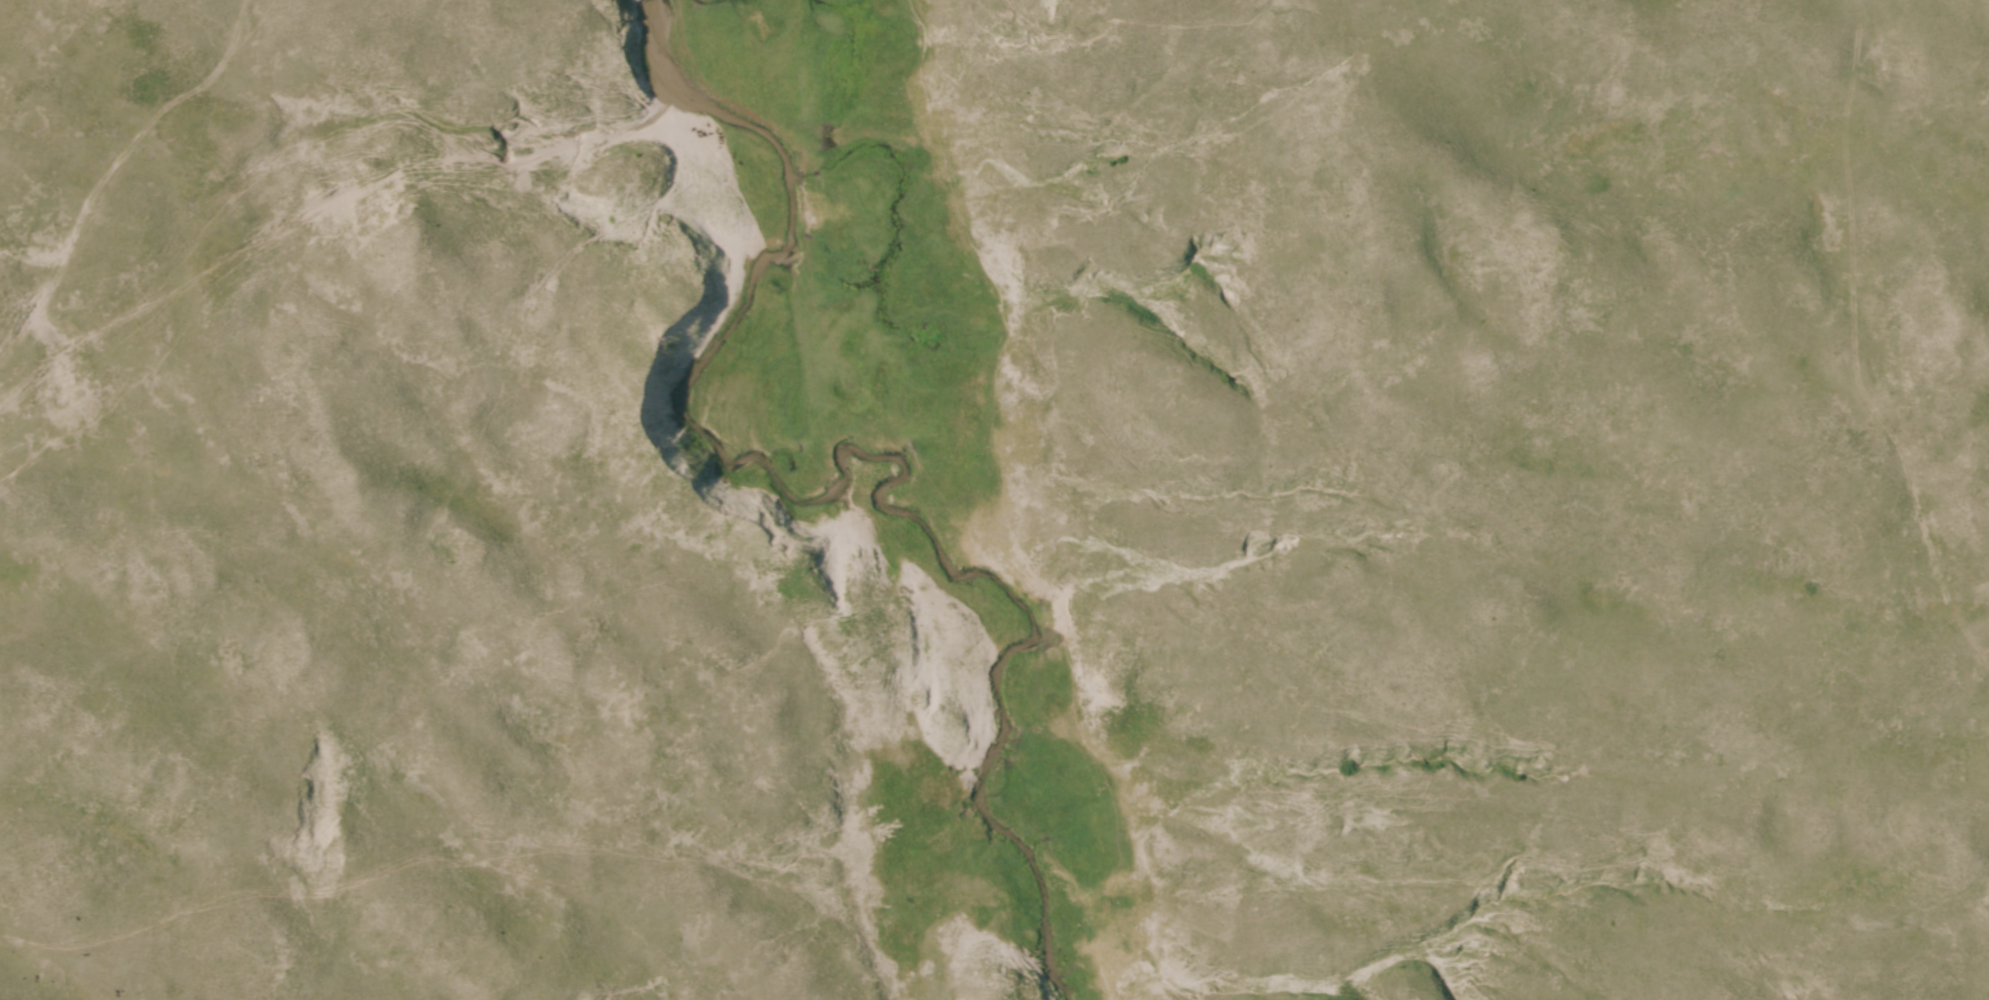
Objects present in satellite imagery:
river: (759, 466)

